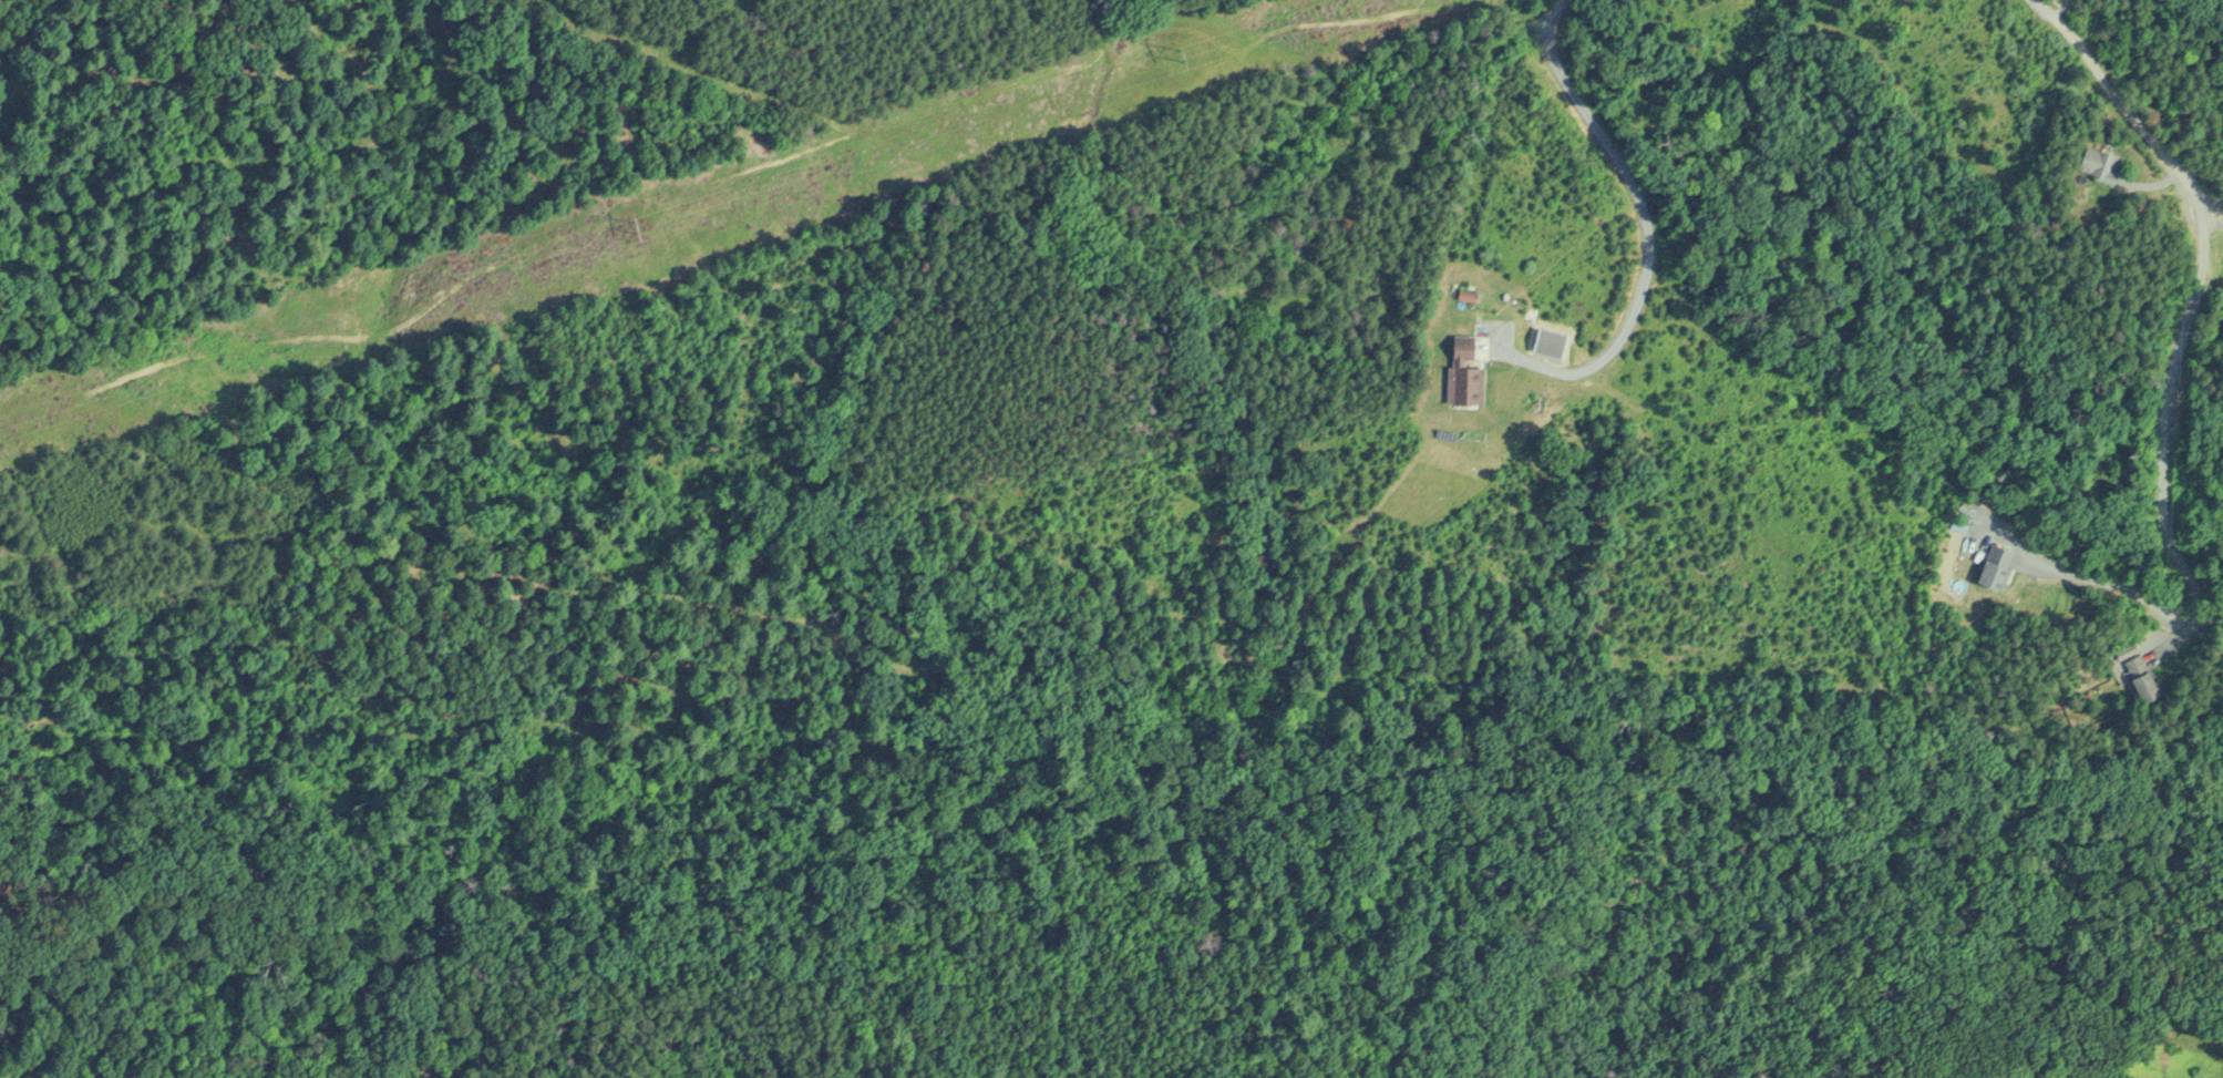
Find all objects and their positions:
building: (2093, 162)
road: (1649, 226)
road: (2196, 290)
building: (1457, 370)
building: (1990, 565)
road: (2109, 584)
building: (2135, 670)

